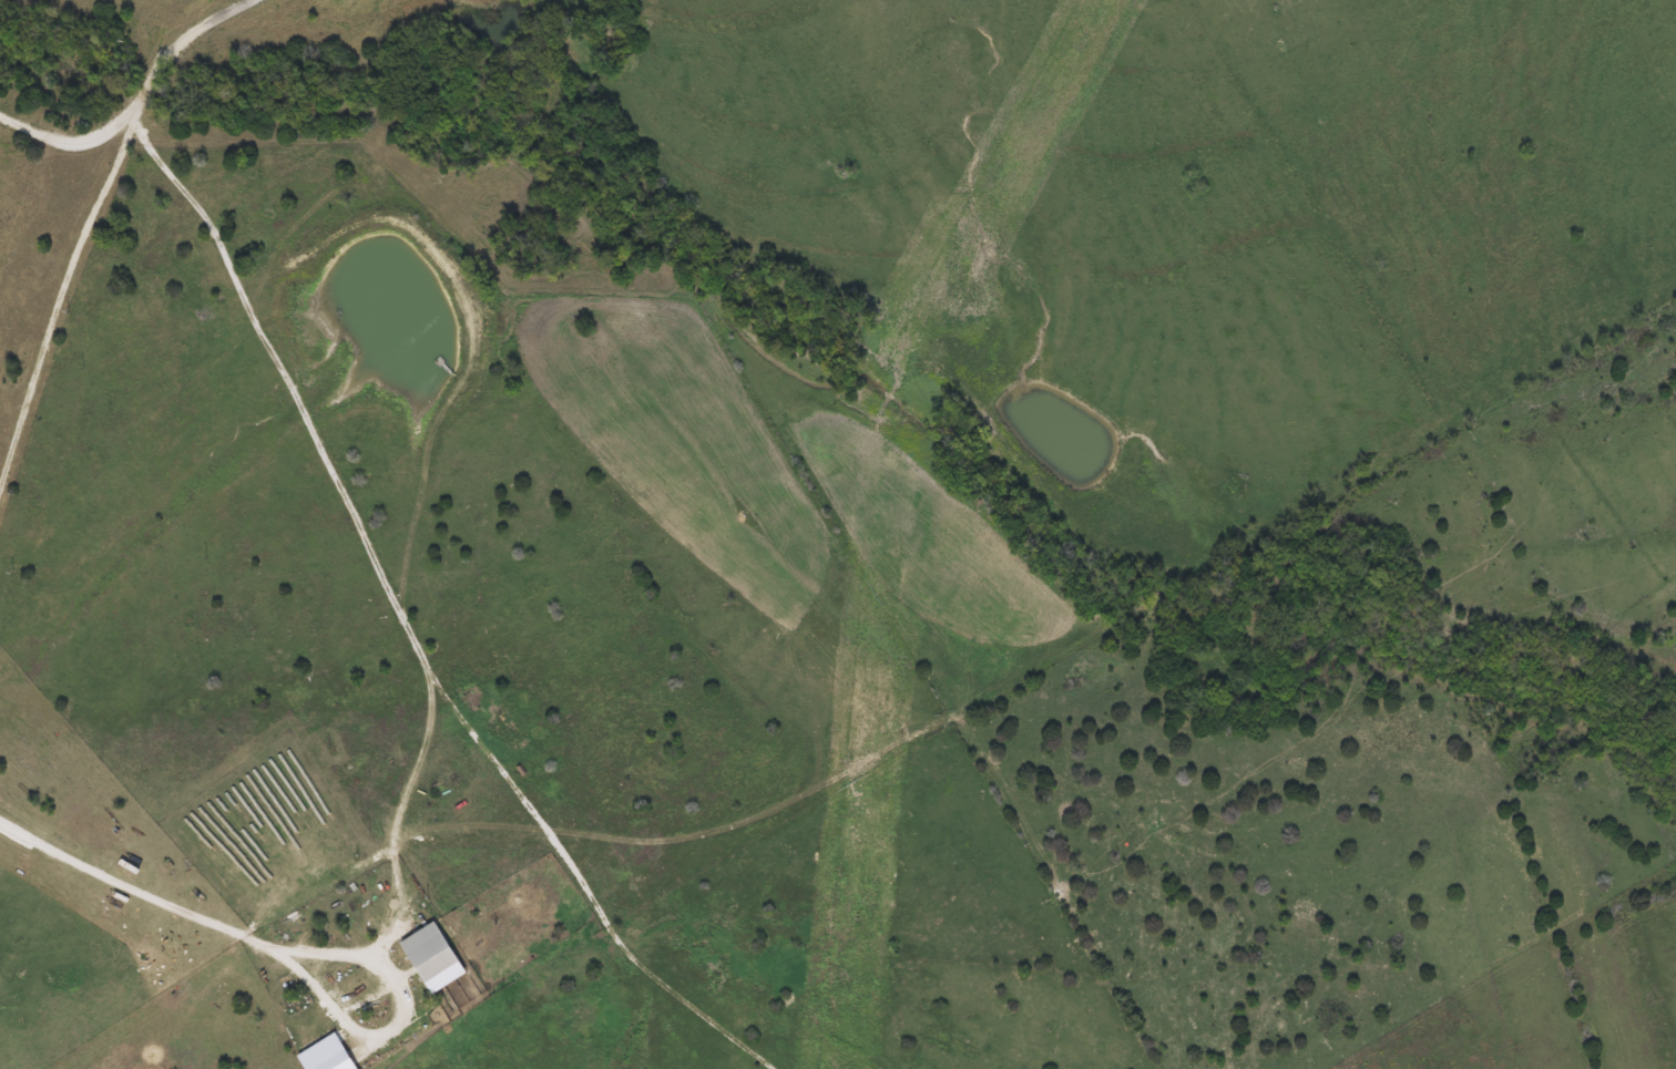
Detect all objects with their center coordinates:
road: (88, 220)
road: (351, 522)
road: (133, 883)
building: (423, 952)
road: (406, 1010)

